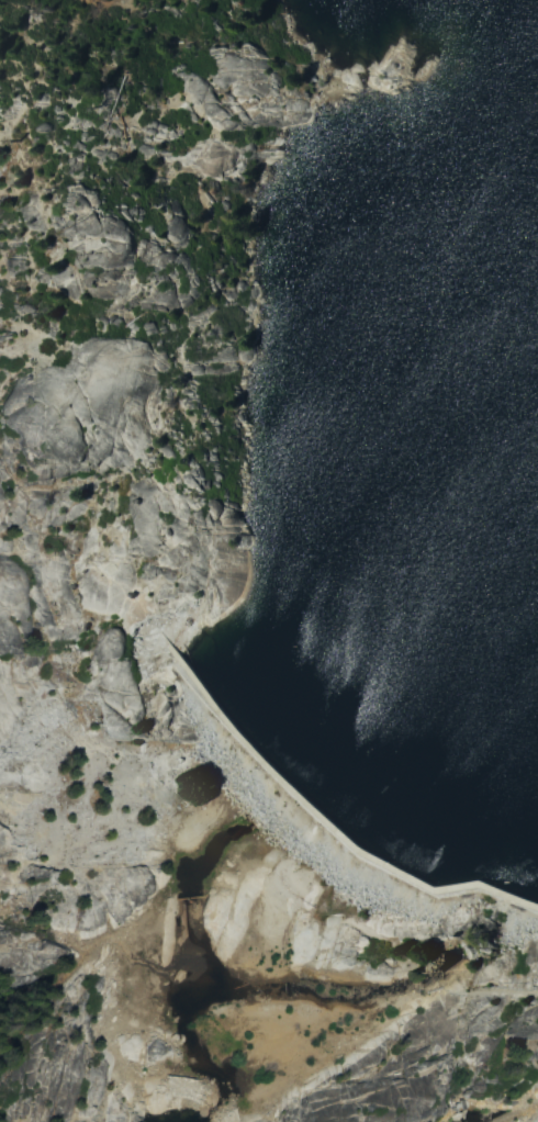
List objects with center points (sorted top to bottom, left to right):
road: (16, 31)
road: (191, 322)
dam: (332, 815)

